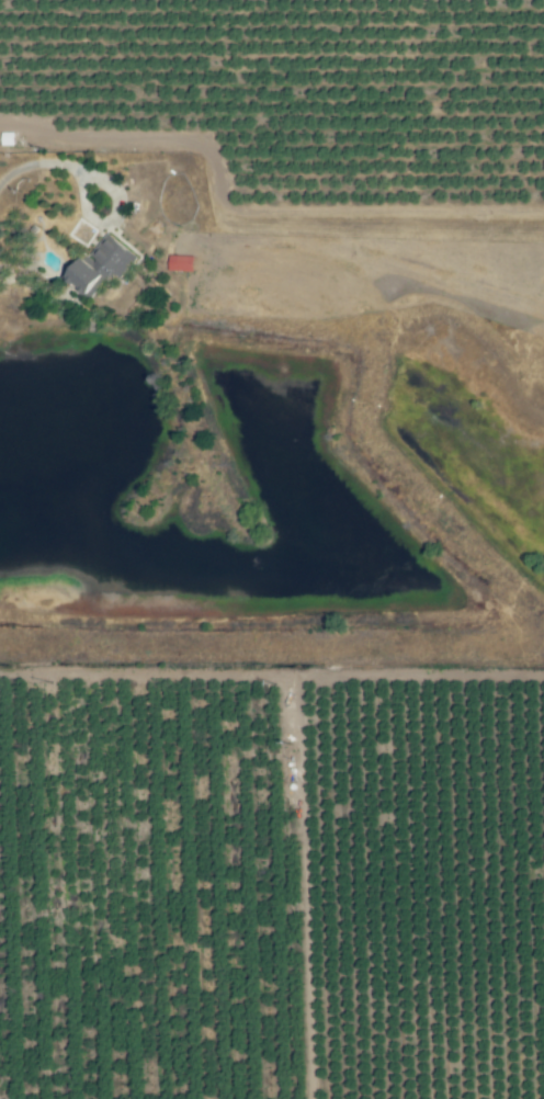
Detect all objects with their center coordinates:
road: (38, 163)
road: (109, 219)
building: (100, 267)

